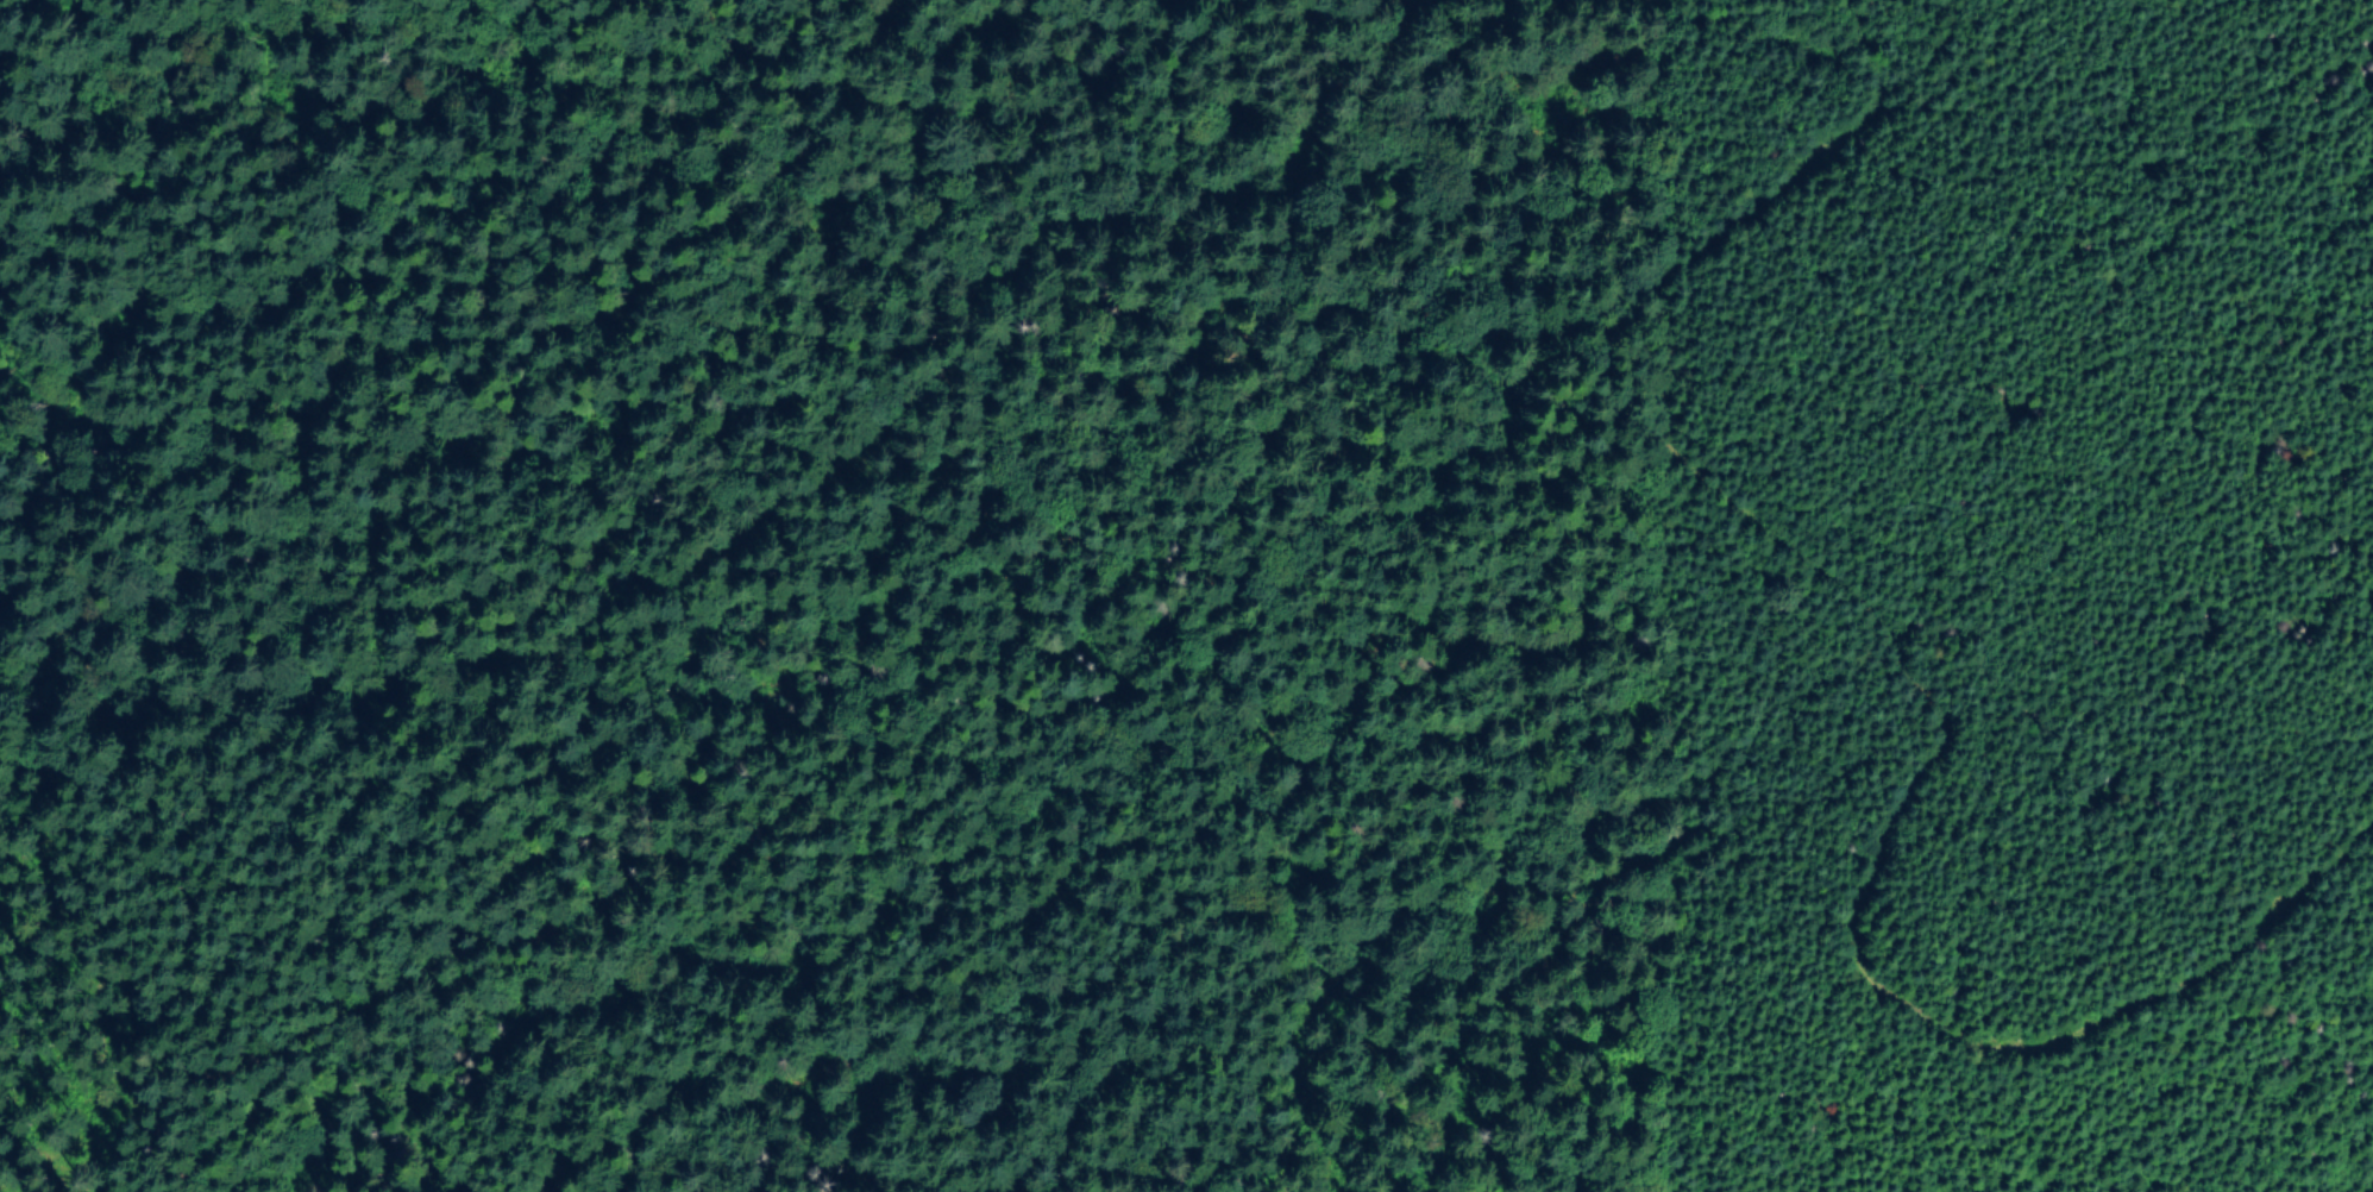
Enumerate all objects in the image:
road: (1925, 744)

